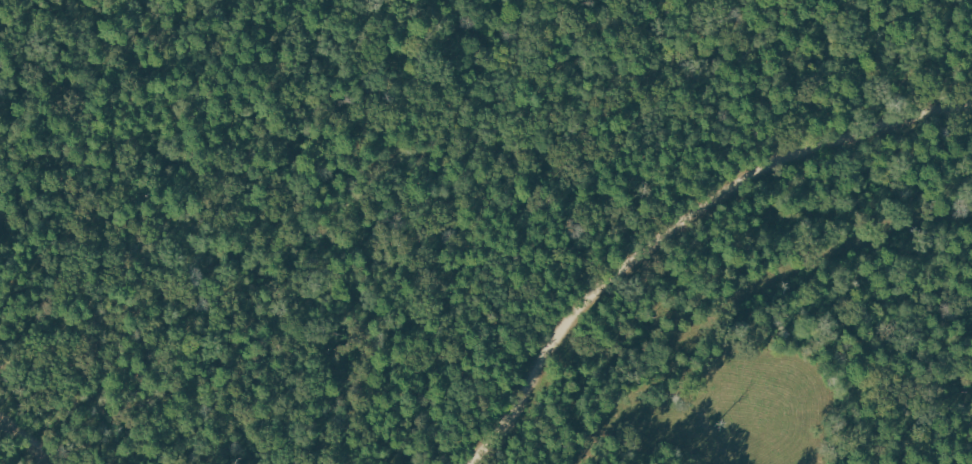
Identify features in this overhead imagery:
road: (677, 222)
road: (28, 440)

